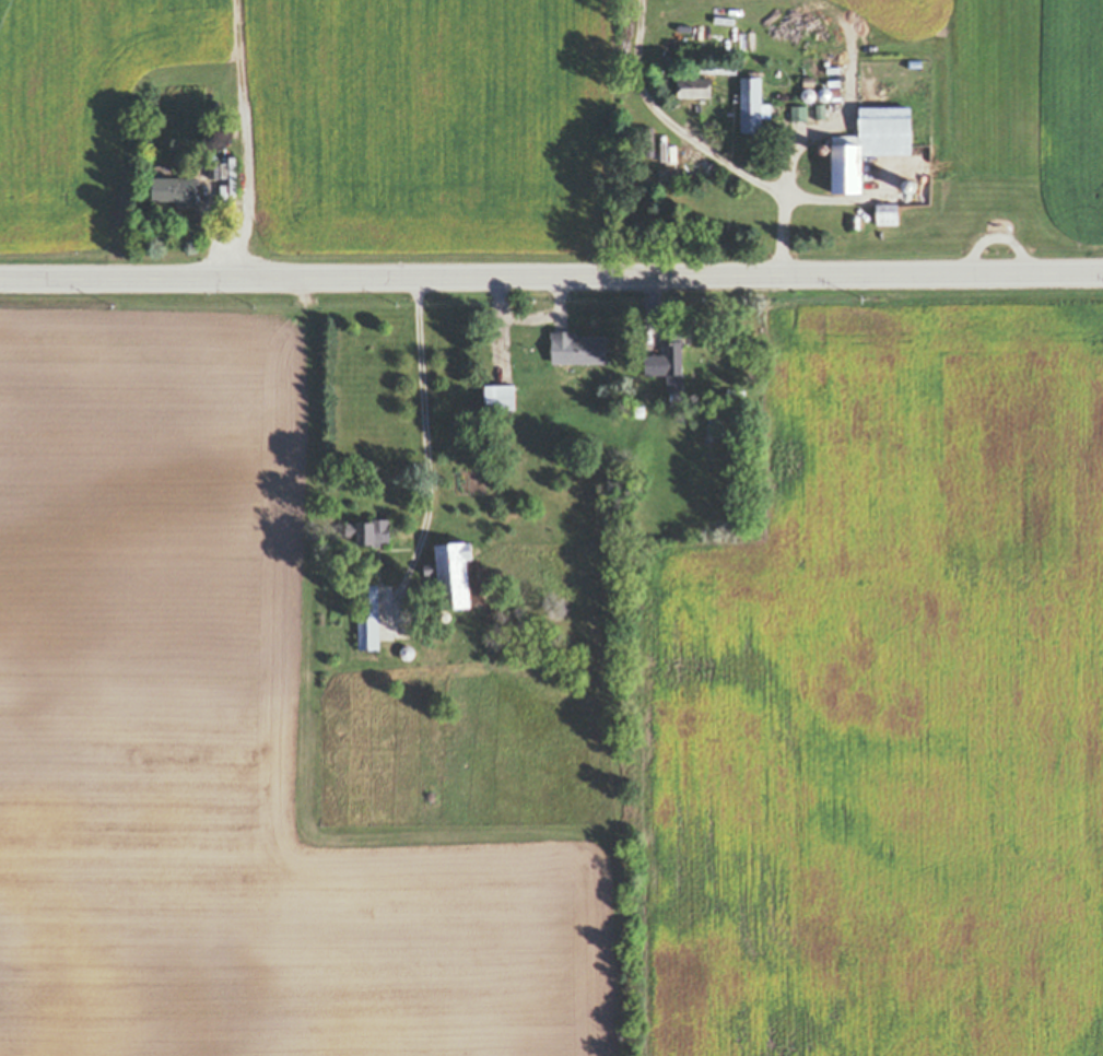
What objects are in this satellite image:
building: (685, 25)
road: (630, 54)
building: (916, 63)
building: (718, 69)
building: (834, 69)
building: (810, 81)
building: (835, 82)
airport taxiway: (998, 86)
building: (695, 87)
airport: (995, 87)
building: (837, 91)
building: (809, 94)
building: (825, 94)
building: (753, 106)
building: (822, 110)
building: (800, 113)
building: (656, 130)
road: (244, 138)
building: (652, 142)
building: (871, 143)
building: (823, 148)
building: (652, 161)
road: (751, 168)
building: (204, 169)
building: (216, 171)
building: (234, 175)
building: (688, 175)
building: (894, 185)
building: (882, 186)
building: (911, 186)
building: (177, 189)
building: (888, 213)
building: (857, 221)
building: (999, 225)
road: (997, 237)
road: (551, 275)
building: (579, 349)
building: (670, 362)
building: (501, 397)
building: (639, 411)
building: (716, 426)
road: (421, 431)
building: (709, 437)
building: (371, 530)
building: (453, 572)
building: (369, 617)
building: (447, 617)
building: (408, 654)

